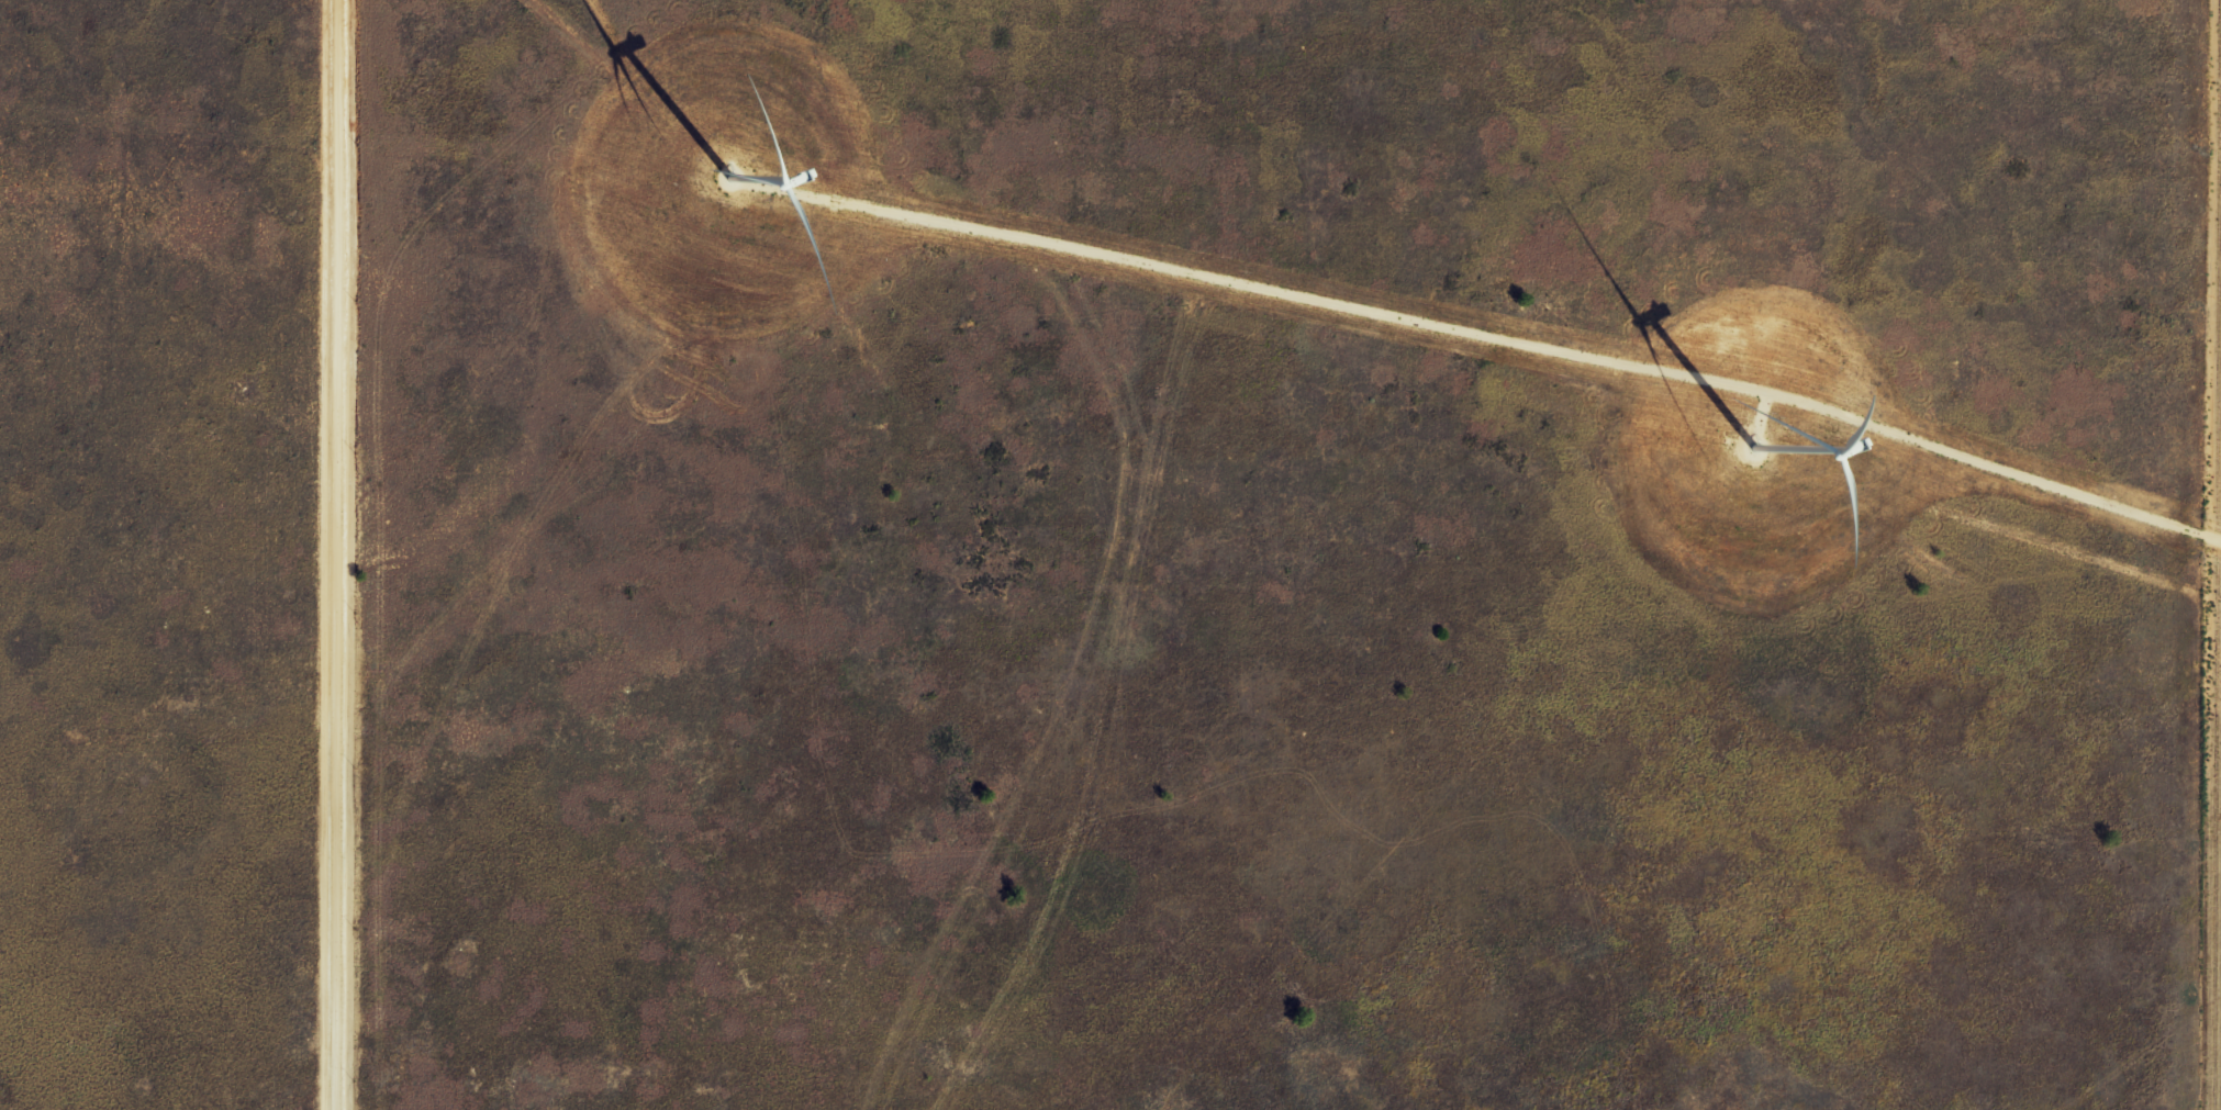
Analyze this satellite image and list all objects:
wind turbine: (722, 180)
wind turbine: (1750, 449)
road: (368, 554)

